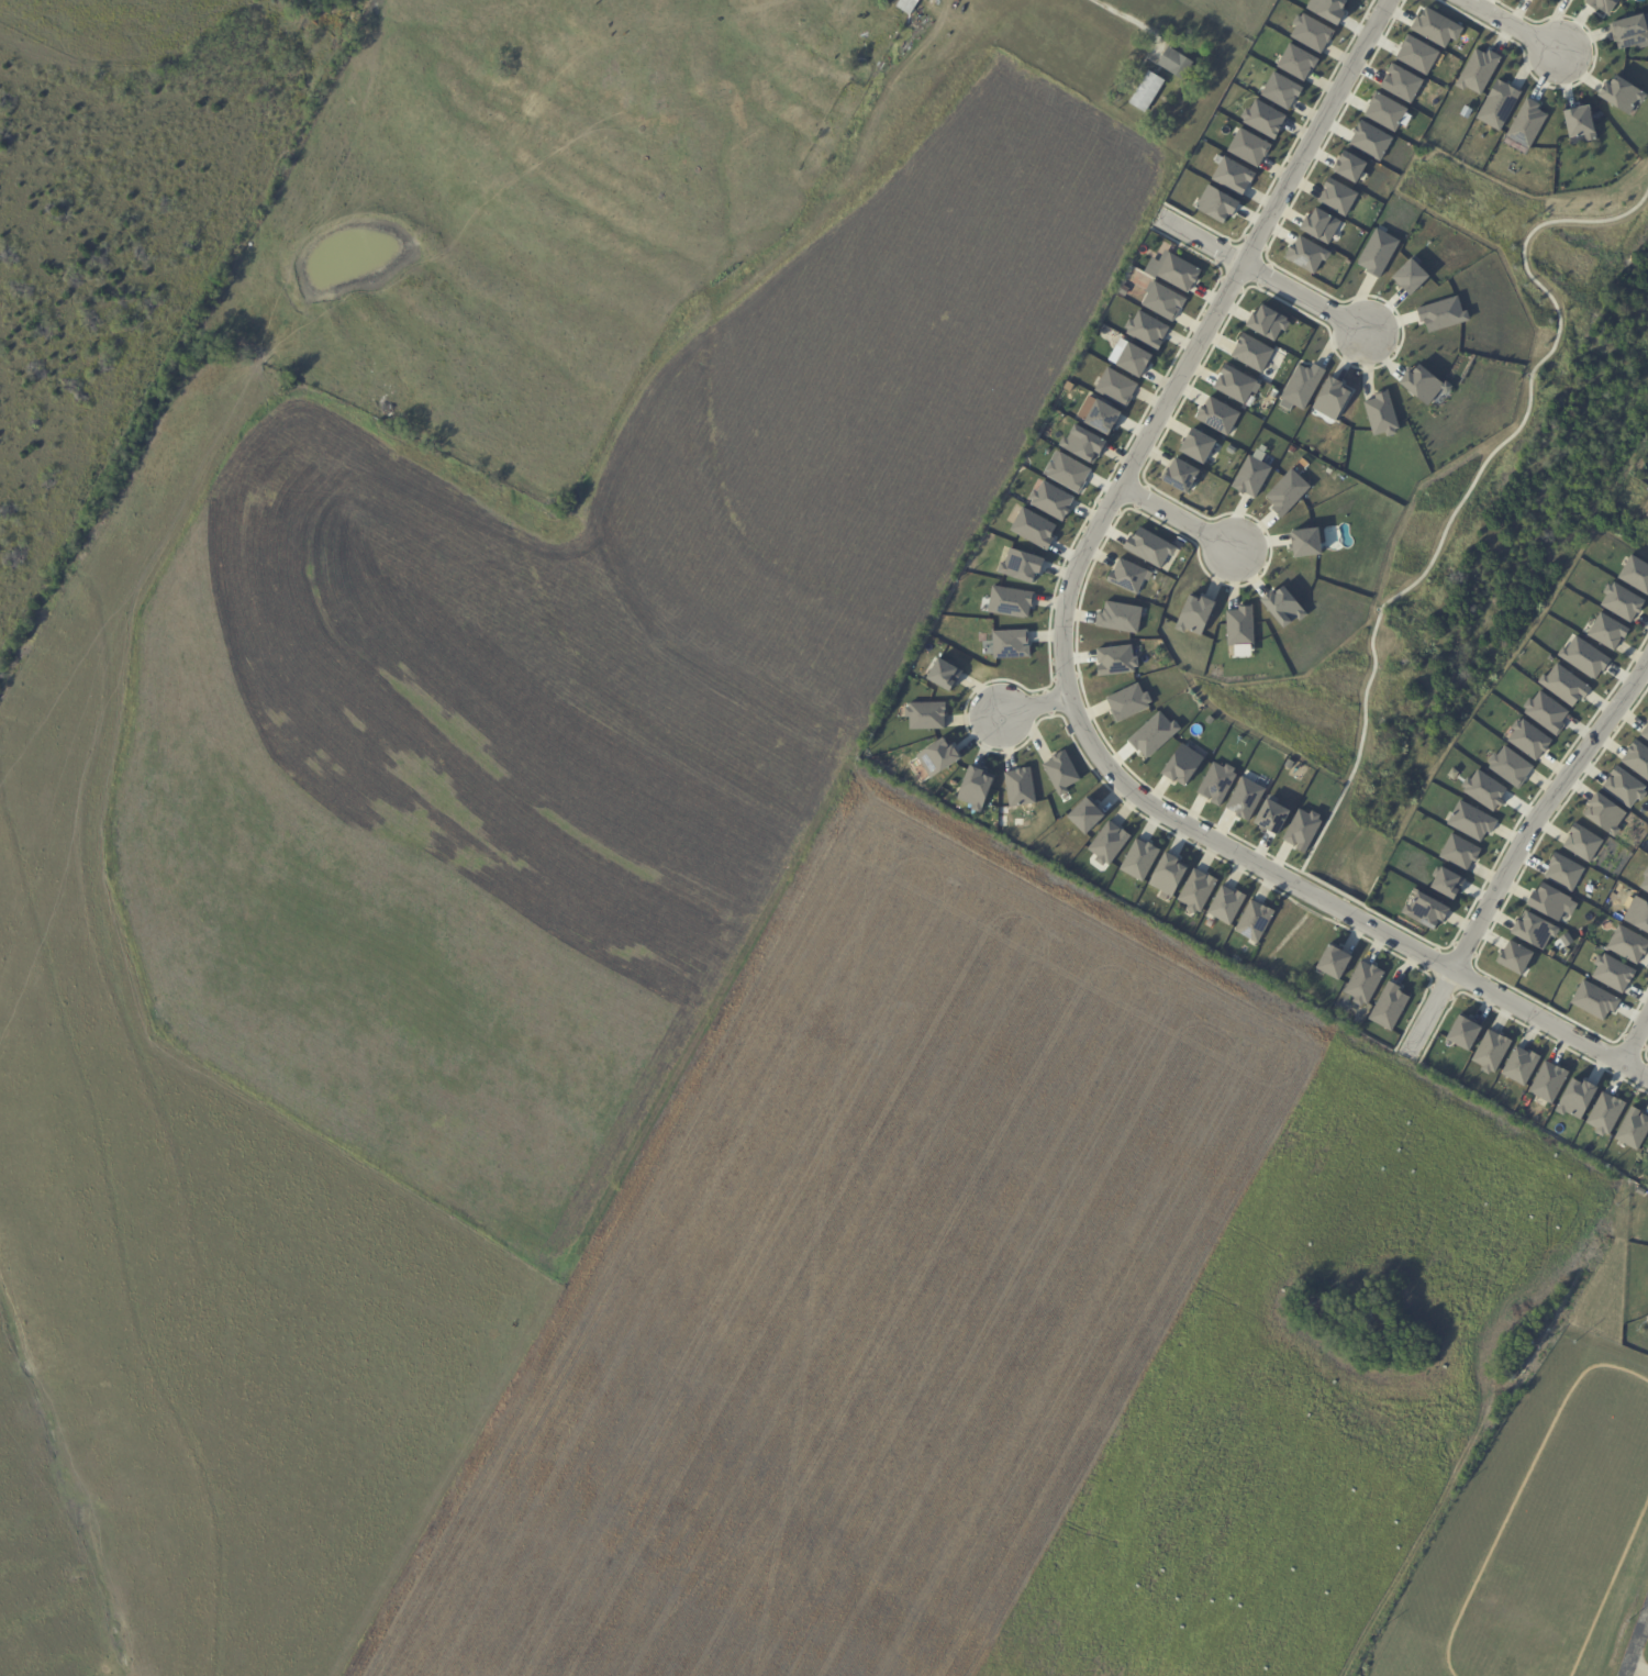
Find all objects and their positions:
building: (1601, 4)
building: (909, 5)
building: (1327, 9)
road: (1117, 12)
road: (1513, 24)
building: (1435, 26)
building: (1630, 31)
building: (1311, 32)
building: (1416, 55)
building: (1295, 62)
building: (1180, 65)
building: (1477, 70)
building: (1400, 82)
building: (1280, 90)
building: (1621, 93)
building: (1151, 95)
building: (1497, 103)
building: (1384, 111)
building: (1262, 118)
building: (1526, 122)
building: (1579, 123)
building: (1369, 140)
building: (1248, 147)
building: (1349, 166)
building: (1233, 175)
building: (1336, 196)
building: (1215, 203)
building: (1319, 225)
building: (1378, 252)
building: (1305, 254)
building: (1172, 270)
road: (1260, 273)
building: (1410, 276)
building: (1162, 301)
building: (1441, 313)
building: (1267, 322)
building: (1146, 329)
building: (1251, 352)
building: (1133, 359)
building: (1234, 384)
building: (1423, 384)
building: (1301, 386)
building: (1115, 387)
building: (1330, 398)
building: (1381, 413)
building: (1217, 415)
building: (1101, 417)
building: (1082, 444)
building: (1196, 445)
building: (1066, 471)
building: (1179, 474)
building: (1250, 476)
building: (1287, 491)
road: (1467, 492)
building: (1050, 500)
park: (1474, 511)
road: (1174, 515)
building: (1647, 515)
building: (1032, 528)
building: (1305, 542)
building: (1148, 547)
building: (1020, 565)
building: (1635, 574)
building: (1127, 576)
building: (1010, 601)
building: (1621, 601)
building: (1282, 606)
building: (1193, 614)
building: (1118, 617)
building: (1239, 626)
building: (1607, 631)
building: (1009, 644)
building: (1584, 657)
road: (1065, 659)
building: (1115, 659)
building: (943, 674)
building: (1565, 685)
building: (1127, 701)
road: (1034, 706)
building: (1546, 712)
building: (925, 714)
building: (1645, 731)
building: (1153, 733)
building: (1528, 739)
building: (936, 755)
building: (1637, 758)
building: (1181, 764)
building: (1510, 766)
building: (1060, 772)
building: (1216, 781)
building: (1623, 786)
building: (1018, 787)
building: (973, 788)
building: (1484, 789)
building: (1244, 798)
building: (1604, 813)
building: (1084, 814)
building: (1271, 815)
building: (1470, 821)
building: (1302, 829)
building: (1107, 842)
road: (1517, 842)
building: (1582, 842)
building: (1459, 851)
building: (1138, 858)
building: (1563, 870)
building: (1167, 874)
building: (1645, 880)
building: (1447, 883)
building: (1195, 890)
building: (1550, 901)
building: (1225, 904)
building: (1425, 909)
building: (1636, 912)
building: (1254, 921)
building: (1534, 930)
building: (1628, 943)
building: (1515, 956)
building: (1332, 962)
building: (1612, 972)
building: (1363, 981)
building: (1594, 999)
building: (1389, 1006)
building: (1463, 1032)
road: (1636, 1040)
building: (1490, 1051)
building: (1519, 1065)
building: (1548, 1081)
building: (1575, 1097)
building: (1604, 1112)
building: (1633, 1129)
building: (1647, 1150)
road: (1636, 1644)

